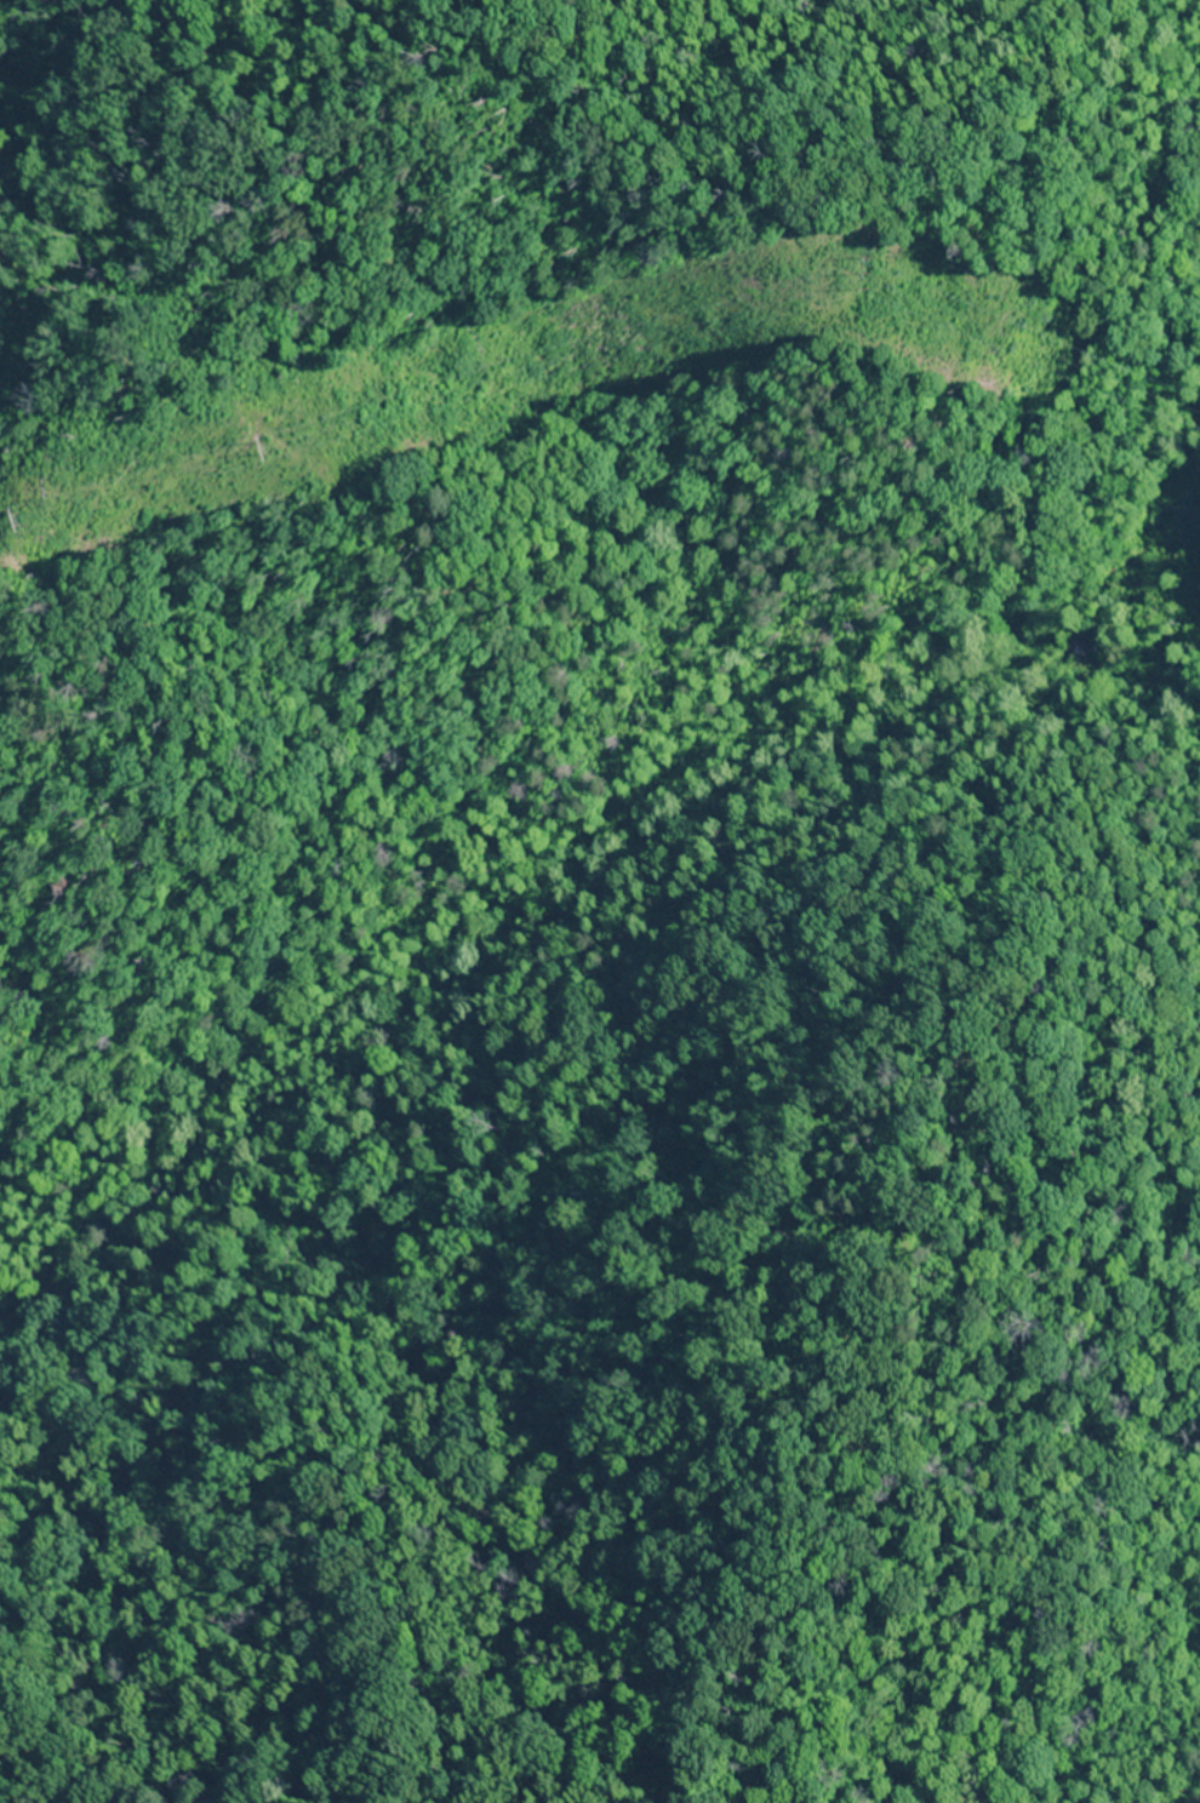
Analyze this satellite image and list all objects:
road: (749, 739)

